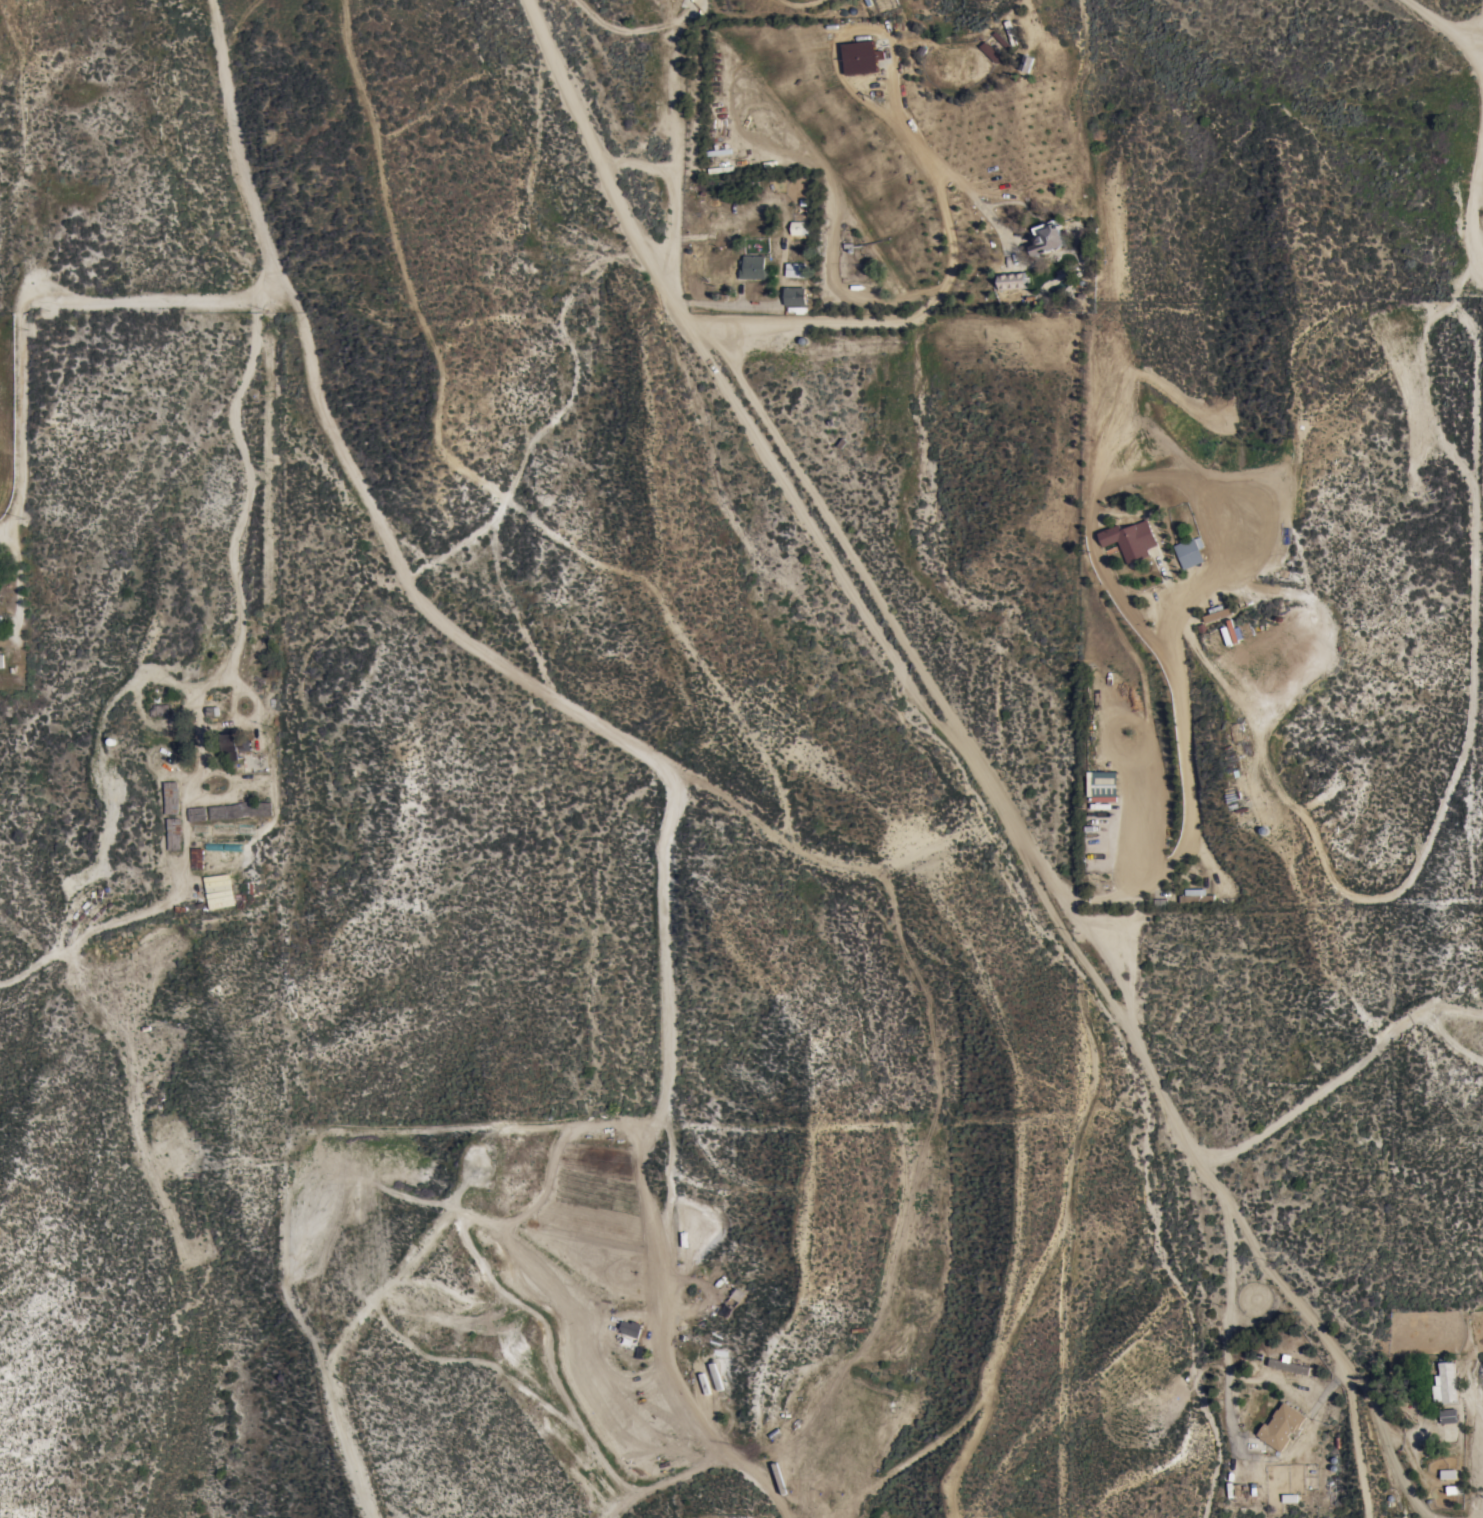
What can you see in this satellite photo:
road: (1447, 26)
road: (1478, 27)
building: (991, 52)
road: (1482, 53)
building: (860, 57)
building: (1027, 63)
road: (676, 99)
road: (916, 136)
road: (234, 138)
road: (673, 197)
building: (800, 228)
building: (1048, 238)
building: (753, 268)
building: (796, 270)
building: (1013, 281)
road: (1461, 281)
building: (795, 297)
road: (27, 307)
road: (243, 516)
building: (1134, 540)
building: (1190, 553)
road: (19, 576)
road: (1472, 594)
building: (1, 624)
building: (1239, 633)
road: (489, 657)
building: (2, 661)
building: (159, 711)
building: (238, 744)
road: (955, 759)
building: (1102, 784)
building: (171, 798)
building: (241, 811)
building: (198, 814)
building: (174, 834)
building: (197, 859)
building: (1197, 896)
road: (663, 1047)
road: (1347, 1075)
road: (1226, 1325)
building: (631, 1328)
building: (1445, 1384)
building: (1448, 1416)
building: (1278, 1426)

